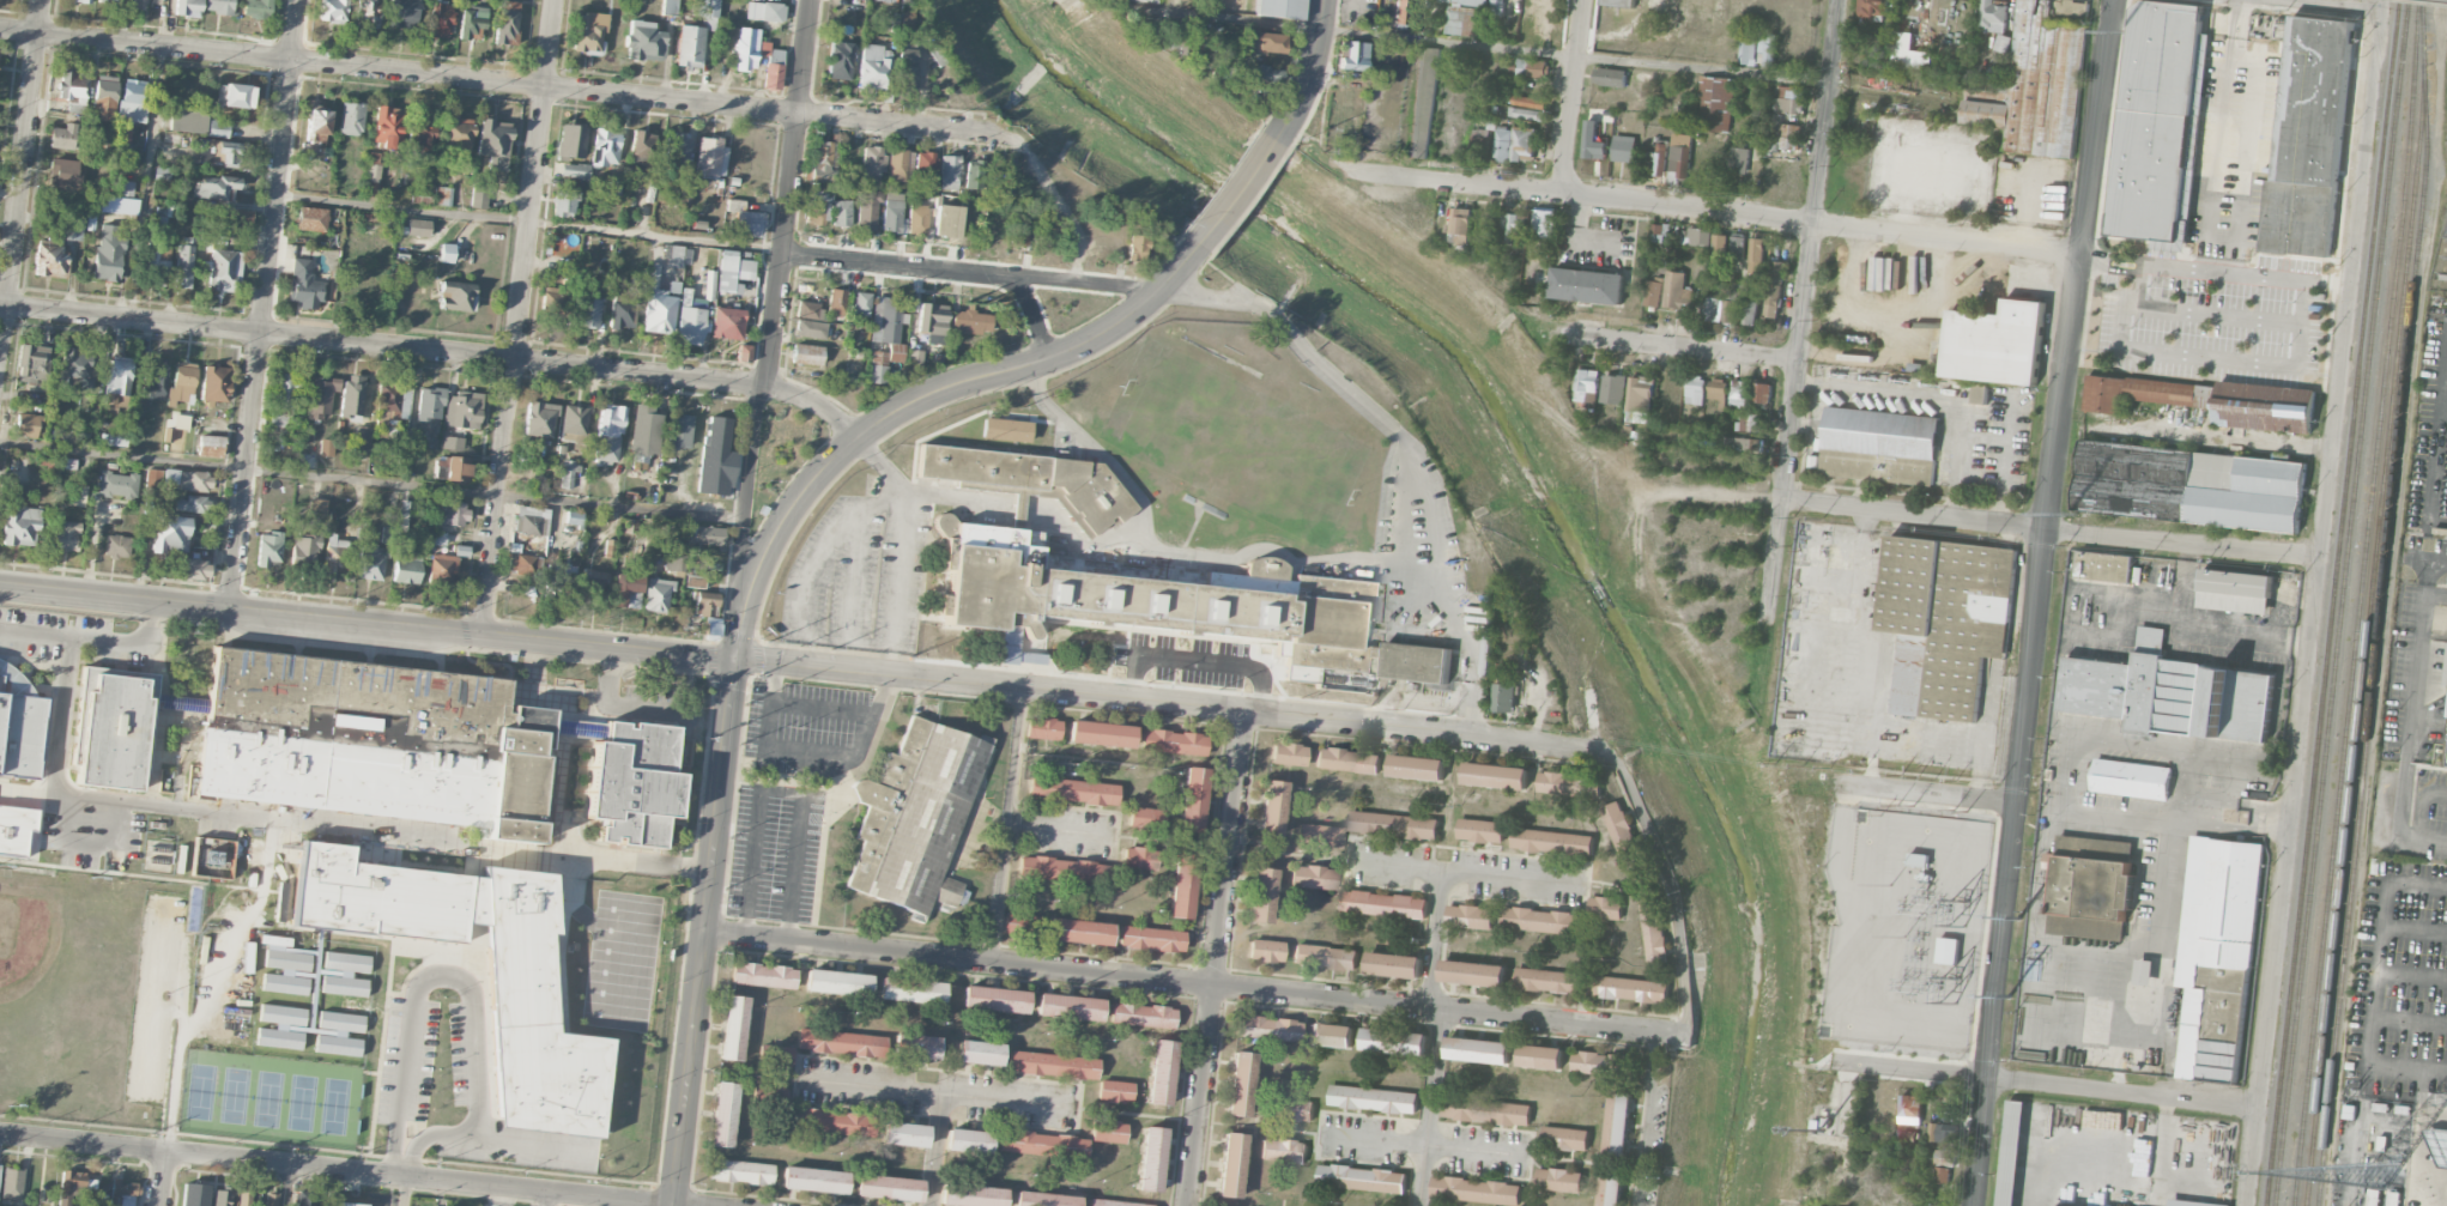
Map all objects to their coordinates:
building: (84, 1)
building: (1146, 1)
building: (111, 2)
building: (1619, 2)
building: (143, 4)
road: (2327, 5)
building: (219, 6)
building: (256, 6)
building: (670, 6)
building: (1497, 6)
building: (187, 7)
building: (707, 7)
building: (1280, 8)
building: (332, 11)
building: (764, 11)
building: (367, 12)
building: (401, 12)
building: (1401, 12)
building: (1993, 17)
building: (440, 20)
building: (505, 22)
building: (1462, 22)
building: (471, 23)
road: (2235, 25)
power tower: (2124, 26)
building: (588, 30)
building: (644, 41)
building: (1264, 42)
road: (1460, 44)
building: (689, 46)
building: (745, 48)
building: (1749, 49)
building: (1767, 51)
building: (1908, 51)
building: (1352, 55)
building: (905, 56)
building: (838, 60)
building: (771, 66)
building: (873, 66)
building: (1538, 68)
road: (1308, 72)
building: (1264, 73)
building: (1610, 77)
building: (907, 78)
building: (1991, 79)
building: (2040, 79)
road: (504, 81)
building: (72, 86)
building: (237, 96)
building: (104, 97)
road: (1570, 97)
building: (132, 99)
building: (1788, 99)
building: (1423, 102)
building: (1530, 102)
building: (1714, 103)
building: (1527, 113)
building: (350, 119)
building: (2155, 119)
building: (316, 126)
building: (387, 126)
building: (219, 127)
building: (420, 133)
building: (456, 134)
building: (1782, 134)
building: (63, 137)
building: (2308, 137)
building: (571, 140)
building: (1480, 141)
building: (1593, 141)
building: (493, 143)
building: (1524, 143)
building: (1503, 144)
building: (641, 146)
building: (605, 147)
building: (1624, 147)
building: (676, 150)
building: (224, 153)
building: (709, 157)
building: (1679, 157)
building: (822, 159)
building: (1660, 159)
building: (1739, 159)
building: (872, 162)
building: (925, 163)
building: (897, 165)
building: (372, 166)
building: (574, 170)
building: (949, 171)
building: (66, 172)
building: (162, 172)
building: (973, 174)
road: (2245, 176)
road: (20, 178)
building: (999, 178)
road: (146, 182)
building: (614, 184)
building: (214, 187)
road: (1236, 192)
road: (787, 193)
building: (478, 194)
building: (442, 195)
road: (1059, 200)
building: (120, 201)
building: (564, 202)
road: (2227, 206)
building: (826, 207)
building: (867, 208)
building: (891, 212)
road: (1713, 212)
building: (162, 216)
building: (235, 216)
building: (916, 217)
building: (311, 218)
building: (746, 219)
building: (946, 220)
road: (528, 222)
building: (1513, 222)
building: (1540, 222)
building: (1460, 225)
building: (418, 228)
building: (1662, 230)
building: (73, 231)
building: (1018, 234)
building: (1696, 236)
building: (1737, 246)
building: (1716, 247)
building: (1137, 248)
building: (444, 253)
building: (1758, 254)
building: (673, 255)
building: (50, 260)
building: (184, 261)
road: (894, 263)
building: (157, 269)
road: (2215, 269)
building: (225, 271)
building: (733, 272)
road: (1080, 283)
building: (304, 285)
building: (1587, 285)
building: (1774, 287)
building: (1654, 291)
building: (1677, 291)
building: (1739, 291)
building: (456, 296)
road: (262, 302)
building: (553, 302)
building: (836, 302)
building: (861, 303)
road: (1805, 305)
building: (589, 307)
building: (1720, 309)
building: (808, 310)
building: (1749, 311)
building: (659, 313)
road: (1034, 313)
building: (622, 315)
road: (519, 316)
building: (690, 317)
building: (932, 319)
building: (970, 321)
building: (727, 322)
building: (889, 325)
building: (810, 328)
building: (1995, 343)
road: (381, 346)
road: (1688, 350)
building: (743, 352)
building: (808, 354)
road: (2199, 357)
building: (31, 364)
building: (74, 369)
building: (877, 372)
building: (119, 375)
building: (155, 378)
building: (1587, 382)
building: (181, 383)
building: (214, 383)
building: (1613, 388)
building: (1695, 389)
building: (286, 390)
building: (1718, 390)
building: (1750, 392)
building: (1641, 393)
building: (1980, 393)
building: (2143, 393)
building: (321, 395)
building: (352, 396)
road: (1357, 396)
building: (393, 400)
road: (915, 400)
building: (430, 402)
road: (814, 404)
building: (2264, 406)
building: (462, 410)
building: (280, 419)
building: (539, 419)
building: (1748, 422)
building: (25, 424)
building: (1006, 429)
building: (176, 431)
building: (679, 431)
building: (643, 432)
building: (608, 434)
building: (414, 436)
building: (114, 437)
building: (362, 438)
park: (1235, 441)
building: (452, 443)
building: (1743, 443)
building: (210, 446)
building: (1879, 446)
building: (326, 447)
building: (716, 457)
building: (452, 468)
building: (568, 474)
building: (153, 478)
building: (187, 479)
road: (371, 479)
building: (117, 484)
building: (2189, 484)
building: (77, 495)
building: (192, 503)
building: (317, 505)
road: (745, 507)
power tower: (2069, 511)
building: (452, 513)
building: (402, 515)
building: (574, 517)
building: (531, 520)
road: (1471, 525)
building: (20, 527)
road: (2052, 527)
building: (169, 533)
building: (66, 534)
building: (387, 534)
building: (705, 535)
building: (428, 537)
building: (116, 546)
building: (268, 547)
building: (304, 550)
building: (334, 553)
building: (988, 559)
building: (370, 562)
building: (673, 562)
building: (405, 564)
building: (522, 564)
building: (2102, 565)
building: (194, 569)
building: (442, 570)
building: (559, 580)
building: (594, 580)
building: (693, 581)
building: (2235, 589)
building: (626, 590)
building: (658, 594)
road: (2040, 602)
road: (2314, 602)
railway: (2332, 602)
railway: (2340, 602)
railway: (2357, 602)
railway: (2380, 602)
building: (705, 604)
road: (367, 619)
building: (1945, 620)
road: (2205, 631)
railway: (2366, 637)
road: (95, 640)
road: (864, 640)
road: (888, 657)
traffic signals: (735, 659)
building: (1417, 661)
building: (1502, 669)
building: (2446, 678)
building: (0, 679)
building: (2170, 693)
building: (1504, 697)
building: (178, 702)
road: (1169, 703)
road: (65, 715)
road: (2411, 715)
railway: (2003, 723)
building: (114, 726)
building: (576, 727)
building: (1043, 728)
building: (1101, 733)
building: (20, 734)
building: (375, 740)
building: (1174, 741)
road: (811, 751)
building: (1288, 753)
building: (2446, 757)
building: (1347, 760)
building: (1417, 766)
building: (1496, 775)
building: (2131, 778)
building: (631, 783)
building: (1569, 783)
parking lot: (792, 788)
building: (1073, 790)
road: (781, 792)
road: (1909, 792)
road: (1849, 795)
building: (1192, 799)
building: (1271, 807)
road: (2424, 807)
road: (2215, 812)
building: (915, 814)
building: (1146, 818)
building: (1394, 824)
road: (1010, 826)
building: (14, 829)
road: (356, 829)
building: (1480, 830)
road: (1059, 831)
building: (1320, 836)
building: (1552, 842)
building: (1627, 843)
road: (89, 846)
building: (212, 853)
building: (1139, 857)
building: (1919, 859)
building: (1062, 869)
road: (1466, 873)
building: (1313, 877)
building: (1181, 885)
road: (1672, 885)
building: (2090, 886)
building: (1261, 895)
building: (1383, 903)
building: (1605, 908)
building: (1470, 916)
building: (1543, 920)
power tower: (2019, 923)
building: (1019, 925)
road: (2415, 926)
power substation: (1907, 927)
building: (1078, 931)
building: (1654, 931)
road: (704, 932)
building: (1151, 938)
road: (2146, 938)
road: (1438, 940)
building: (557, 947)
building: (1266, 950)
building: (1951, 952)
building: (2216, 956)
building: (1325, 957)
road: (1218, 958)
building: (1394, 964)
road: (2412, 971)
building: (1473, 972)
building: (763, 975)
road: (425, 980)
building: (1546, 980)
road: (2378, 980)
building: (837, 982)
road: (1181, 982)
road: (212, 983)
building: (519, 988)
building: (1629, 988)
building: (911, 989)
park: (281, 995)
park: (92, 996)
building: (995, 999)
power tower: (2009, 1002)
building: (1068, 1006)
building: (1143, 1014)
road: (2411, 1020)
building: (733, 1028)
building: (1267, 1028)
building: (1331, 1034)
road: (1674, 1034)
road: (1981, 1036)
building: (1394, 1041)
building: (841, 1042)
building: (916, 1046)
building: (1477, 1049)
building: (979, 1053)
building: (775, 1055)
building: (1540, 1056)
building: (1603, 1063)
building: (1053, 1065)
building: (1161, 1072)
building: (1240, 1084)
road: (2039, 1084)
park: (200, 1091)
road: (940, 1091)
building: (1115, 1091)
park: (235, 1095)
park: (268, 1098)
building: (1373, 1098)
park: (302, 1102)
park: (335, 1105)
road: (1433, 1108)
building: (1290, 1109)
building: (1910, 1109)
building: (1486, 1110)
building: (722, 1114)
road: (1648, 1119)
building: (832, 1122)
building: (1618, 1122)
building: (1109, 1131)
building: (1943, 1132)
building: (904, 1134)
building: (1904, 1135)
building: (1565, 1138)
road: (486, 1140)
building: (968, 1140)
building: (1042, 1144)
road: (1427, 1147)
road: (937, 1149)
building: (1284, 1150)
building: (2011, 1151)
road: (2416, 1151)
building: (1151, 1159)
building: (0, 1164)
building: (1943, 1164)
building: (1231, 1165)
road: (337, 1170)
building: (740, 1171)
building: (1362, 1177)
road: (163, 1178)
building: (814, 1180)
building: (1558, 1180)
building: (13, 1183)
road: (289, 1186)
building: (888, 1187)
building: (1610, 1188)
building: (78, 1189)
building: (1476, 1189)
building: (122, 1193)
building: (194, 1194)
building: (971, 1195)
building: (223, 1196)
building: (244, 1198)
building: (271, 1199)
building: (304, 1199)
road: (549, 1199)
building: (1044, 1199)
building: (1110, 1202)
building: (2198, 1202)
building: (347, 1204)
road: (1843, 1204)

